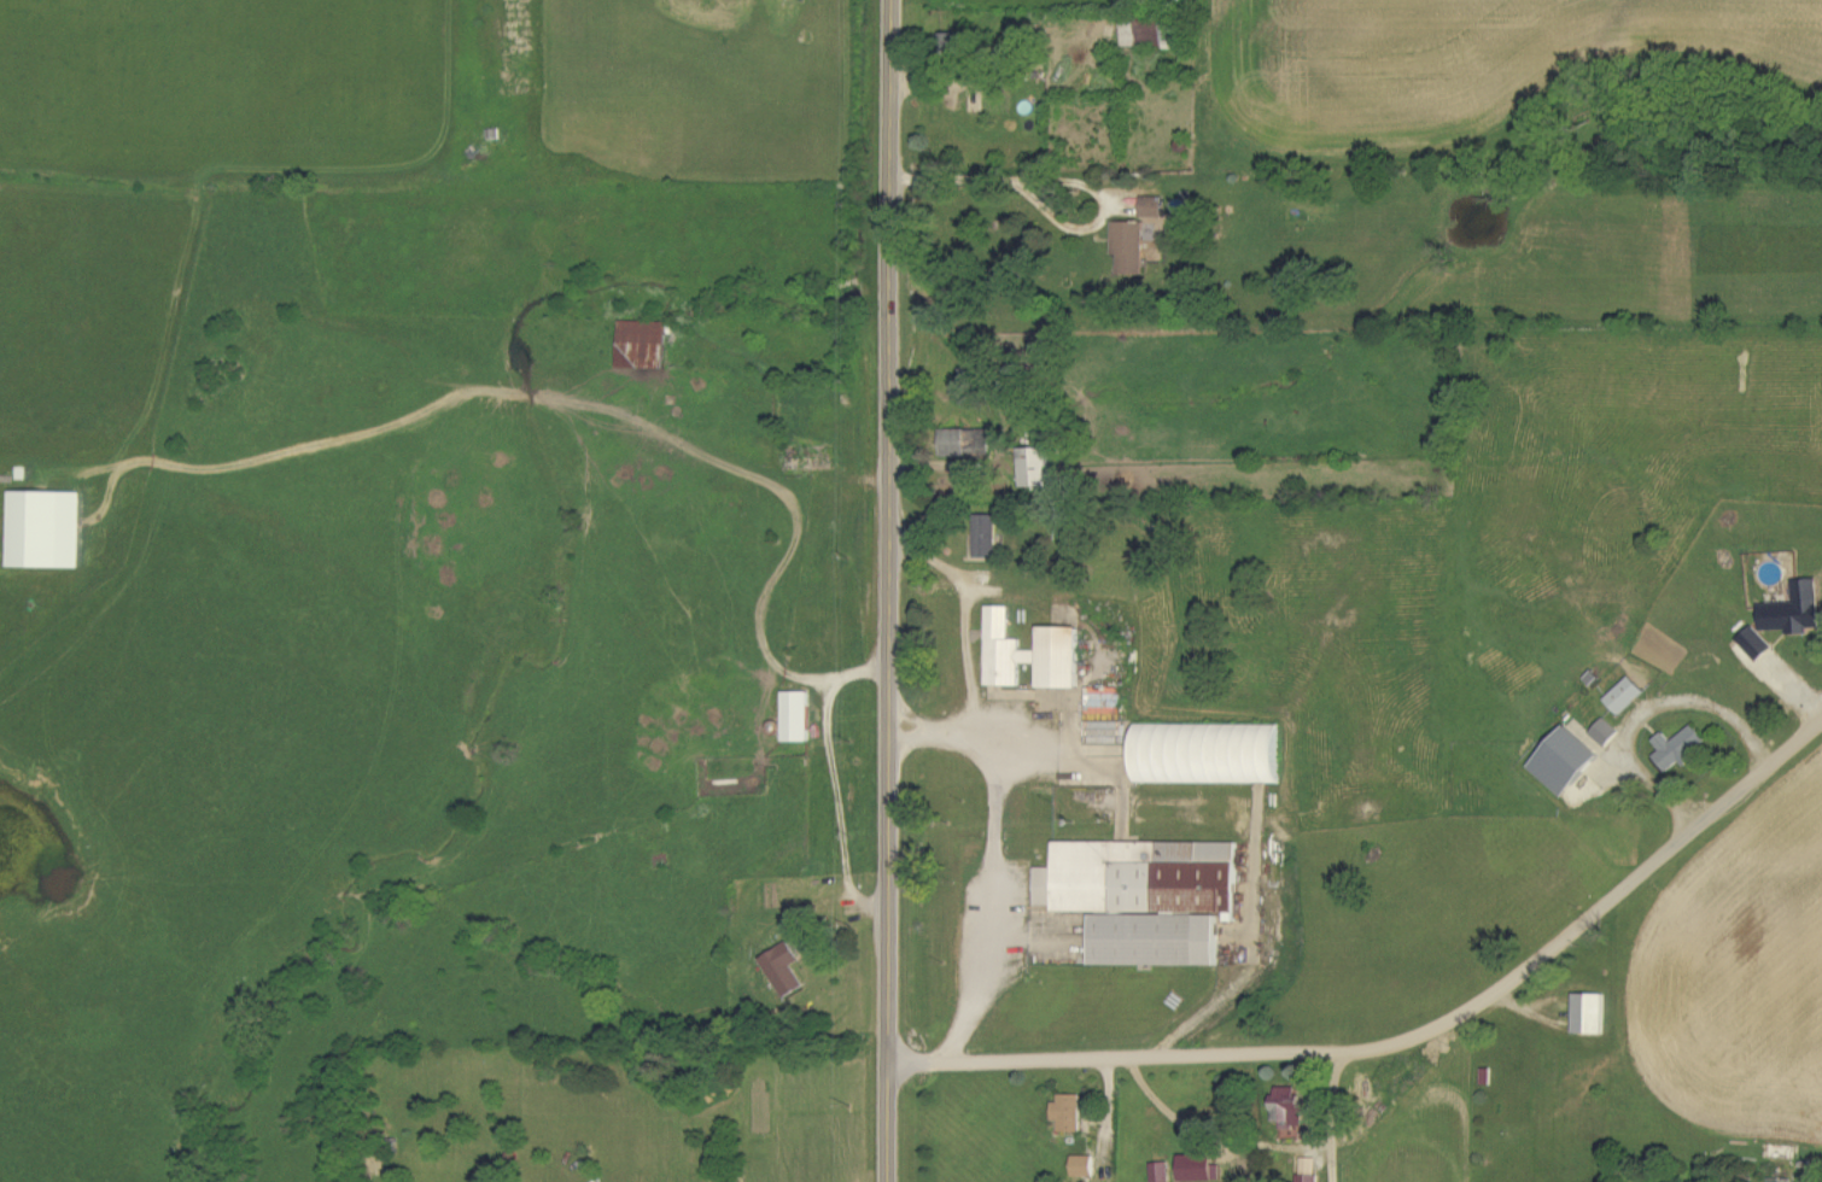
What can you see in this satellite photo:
park: (794, 2)
building: (1145, 35)
road: (1063, 182)
building: (1152, 209)
building: (1131, 248)
building: (643, 345)
building: (956, 445)
building: (1036, 468)
road: (793, 520)
building: (48, 529)
building: (987, 537)
road: (883, 591)
building: (1795, 612)
building: (1756, 645)
road: (963, 646)
building: (1006, 651)
building: (1062, 657)
building: (1627, 696)
building: (1104, 716)
building: (798, 718)
building: (1606, 733)
building: (1680, 749)
building: (1210, 754)
building: (1567, 762)
road: (829, 782)
road: (1662, 855)
road: (988, 888)
building: (1146, 899)
building: (786, 971)
road: (1222, 990)
building: (1592, 1014)
road: (1199, 1054)
building: (1291, 1108)
building: (1070, 1113)
road: (1331, 1117)
building: (1085, 1168)
building: (1199, 1169)
building: (1162, 1172)
building: (1781, 1181)

